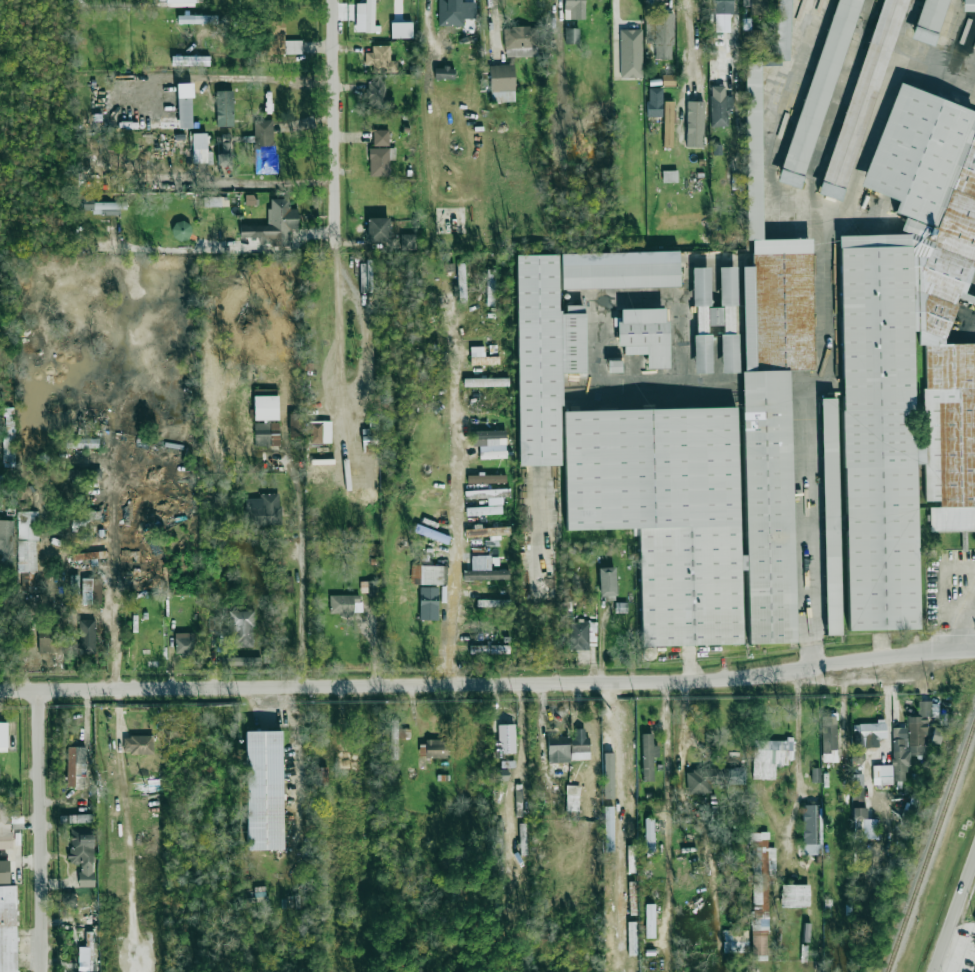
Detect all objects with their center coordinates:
building: (176, 2)
building: (968, 5)
building: (574, 9)
building: (455, 12)
building: (722, 15)
building: (365, 16)
building: (203, 19)
building: (928, 20)
road: (494, 29)
building: (401, 30)
building: (660, 34)
road: (733, 34)
building: (571, 35)
building: (280, 39)
road: (448, 40)
building: (520, 41)
road: (687, 47)
building: (631, 53)
building: (380, 59)
building: (444, 73)
road: (238, 79)
building: (502, 83)
building: (818, 90)
building: (378, 95)
building: (861, 96)
building: (655, 102)
building: (720, 106)
building: (224, 108)
road: (681, 113)
road: (338, 120)
building: (668, 124)
building: (694, 124)
building: (380, 137)
building: (264, 143)
building: (199, 147)
building: (380, 161)
building: (213, 200)
building: (101, 206)
building: (274, 224)
building: (378, 229)
building: (181, 231)
building: (408, 241)
building: (619, 269)
building: (461, 282)
building: (490, 287)
building: (701, 298)
building: (726, 318)
road: (827, 320)
road: (344, 331)
building: (645, 335)
building: (702, 353)
building: (543, 356)
building: (481, 357)
building: (907, 357)
building: (614, 365)
building: (485, 382)
building: (265, 392)
building: (266, 407)
building: (294, 422)
building: (320, 431)
building: (266, 434)
building: (8, 437)
building: (489, 437)
building: (82, 443)
building: (713, 450)
building: (487, 455)
building: (83, 474)
building: (486, 478)
road: (456, 499)
building: (487, 501)
building: (263, 510)
building: (830, 516)
building: (488, 531)
building: (436, 535)
building: (6, 540)
building: (27, 551)
building: (85, 556)
building: (484, 570)
building: (428, 574)
road: (114, 580)
building: (607, 581)
building: (289, 584)
road: (299, 585)
building: (368, 587)
building: (91, 591)
building: (428, 603)
building: (493, 603)
building: (344, 604)
road: (962, 621)
building: (241, 628)
building: (86, 635)
building: (578, 635)
building: (184, 643)
building: (489, 649)
building: (244, 661)
road: (488, 686)
road: (292, 707)
building: (829, 734)
building: (868, 734)
building: (936, 735)
building: (3, 736)
building: (396, 738)
building: (911, 739)
building: (141, 745)
building: (579, 745)
building: (433, 748)
building: (558, 749)
building: (648, 756)
building: (770, 756)
building: (630, 757)
building: (608, 764)
building: (75, 766)
road: (297, 769)
building: (882, 774)
building: (500, 775)
building: (320, 776)
building: (712, 778)
building: (857, 780)
building: (262, 789)
building: (572, 797)
building: (571, 816)
road: (668, 819)
building: (865, 823)
building: (4, 824)
building: (812, 829)
road: (38, 833)
building: (649, 835)
building: (523, 839)
railway: (932, 849)
building: (83, 855)
building: (4, 871)
building: (795, 895)
building: (760, 896)
building: (69, 898)
building: (632, 898)
building: (610, 909)
road: (953, 914)
building: (650, 920)
building: (8, 929)
building: (735, 941)
building: (86, 958)
building: (632, 958)

